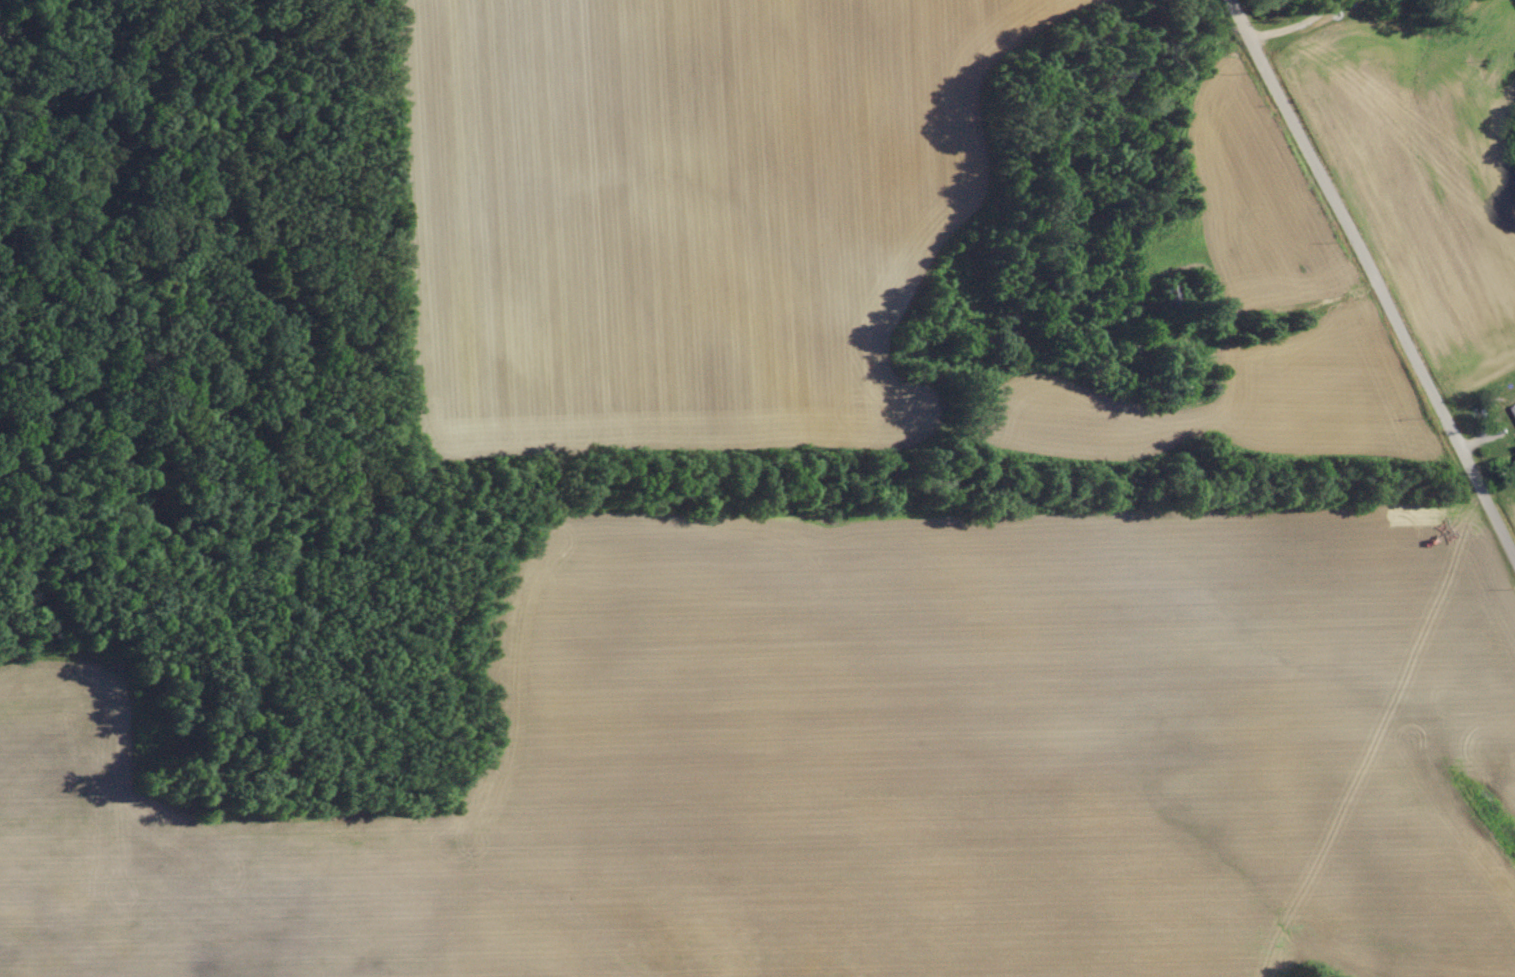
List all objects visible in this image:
road: (1374, 273)

